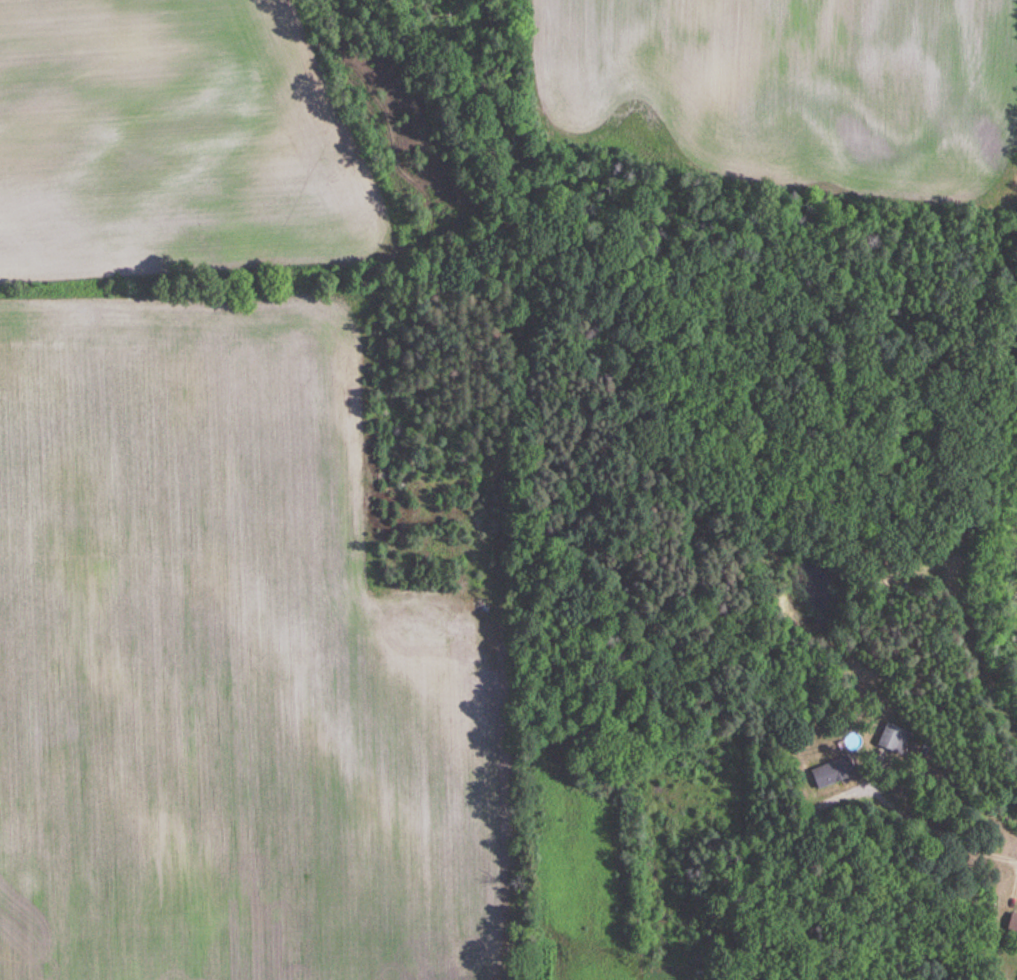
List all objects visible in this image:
building: (893, 739)
building: (832, 772)
building: (1012, 922)

